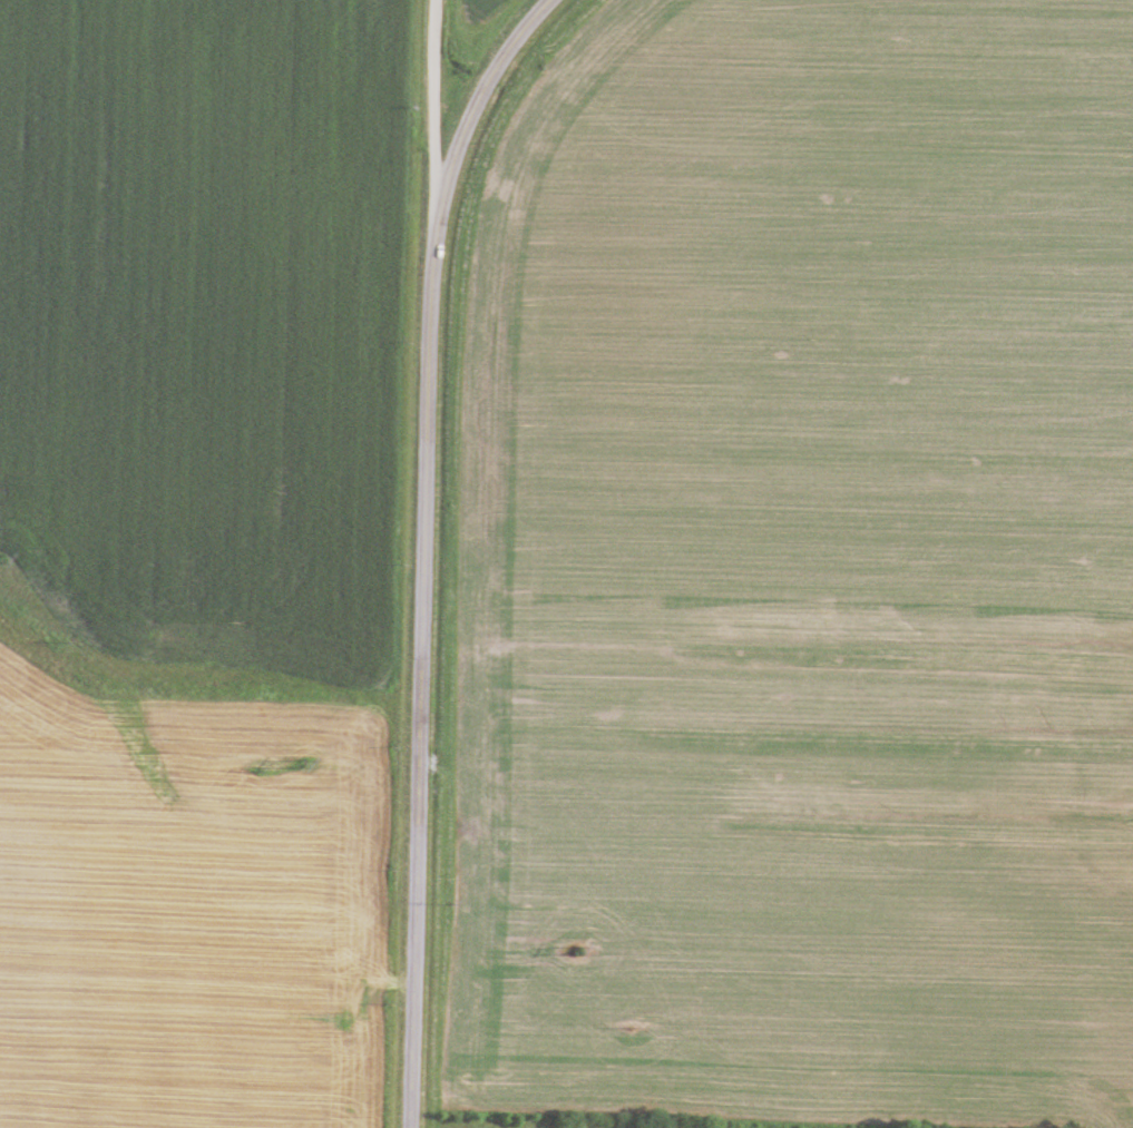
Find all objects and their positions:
road: (436, 109)
road: (421, 549)

